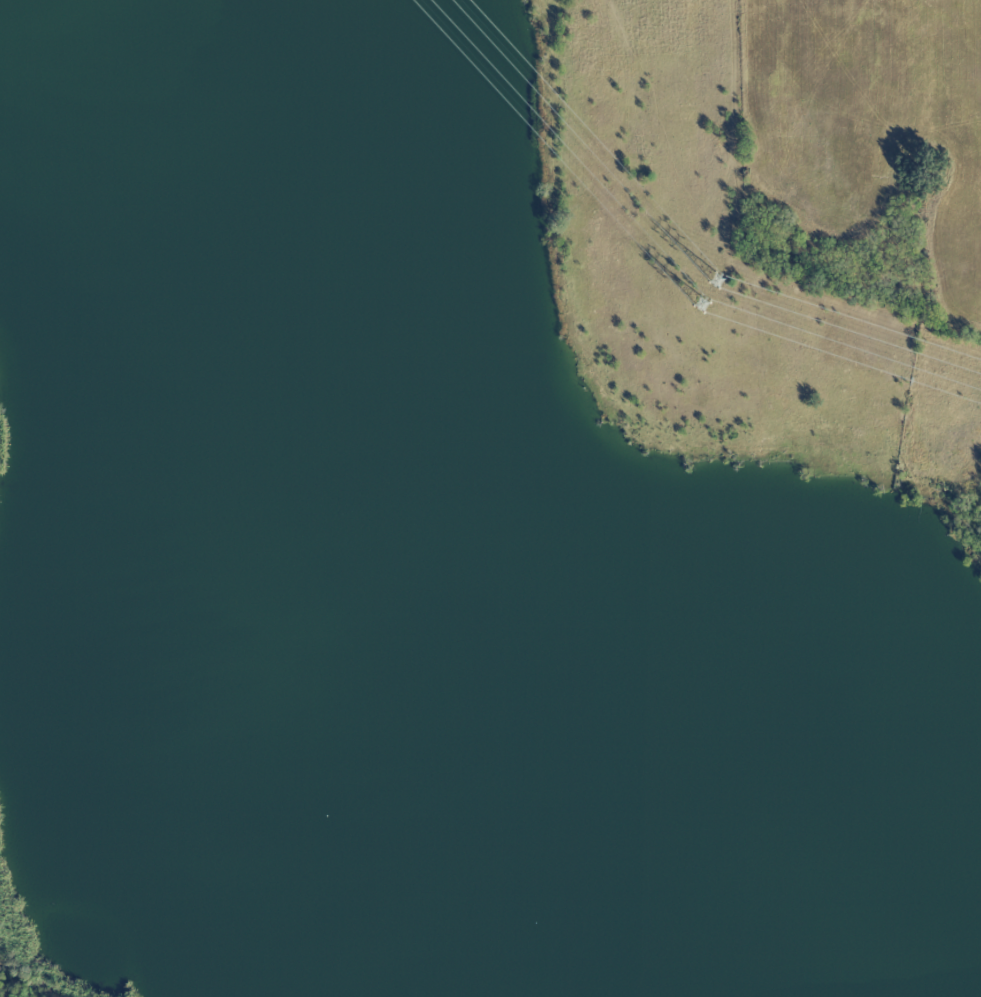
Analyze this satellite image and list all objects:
power tower: (734, 285)
power tower: (709, 310)

